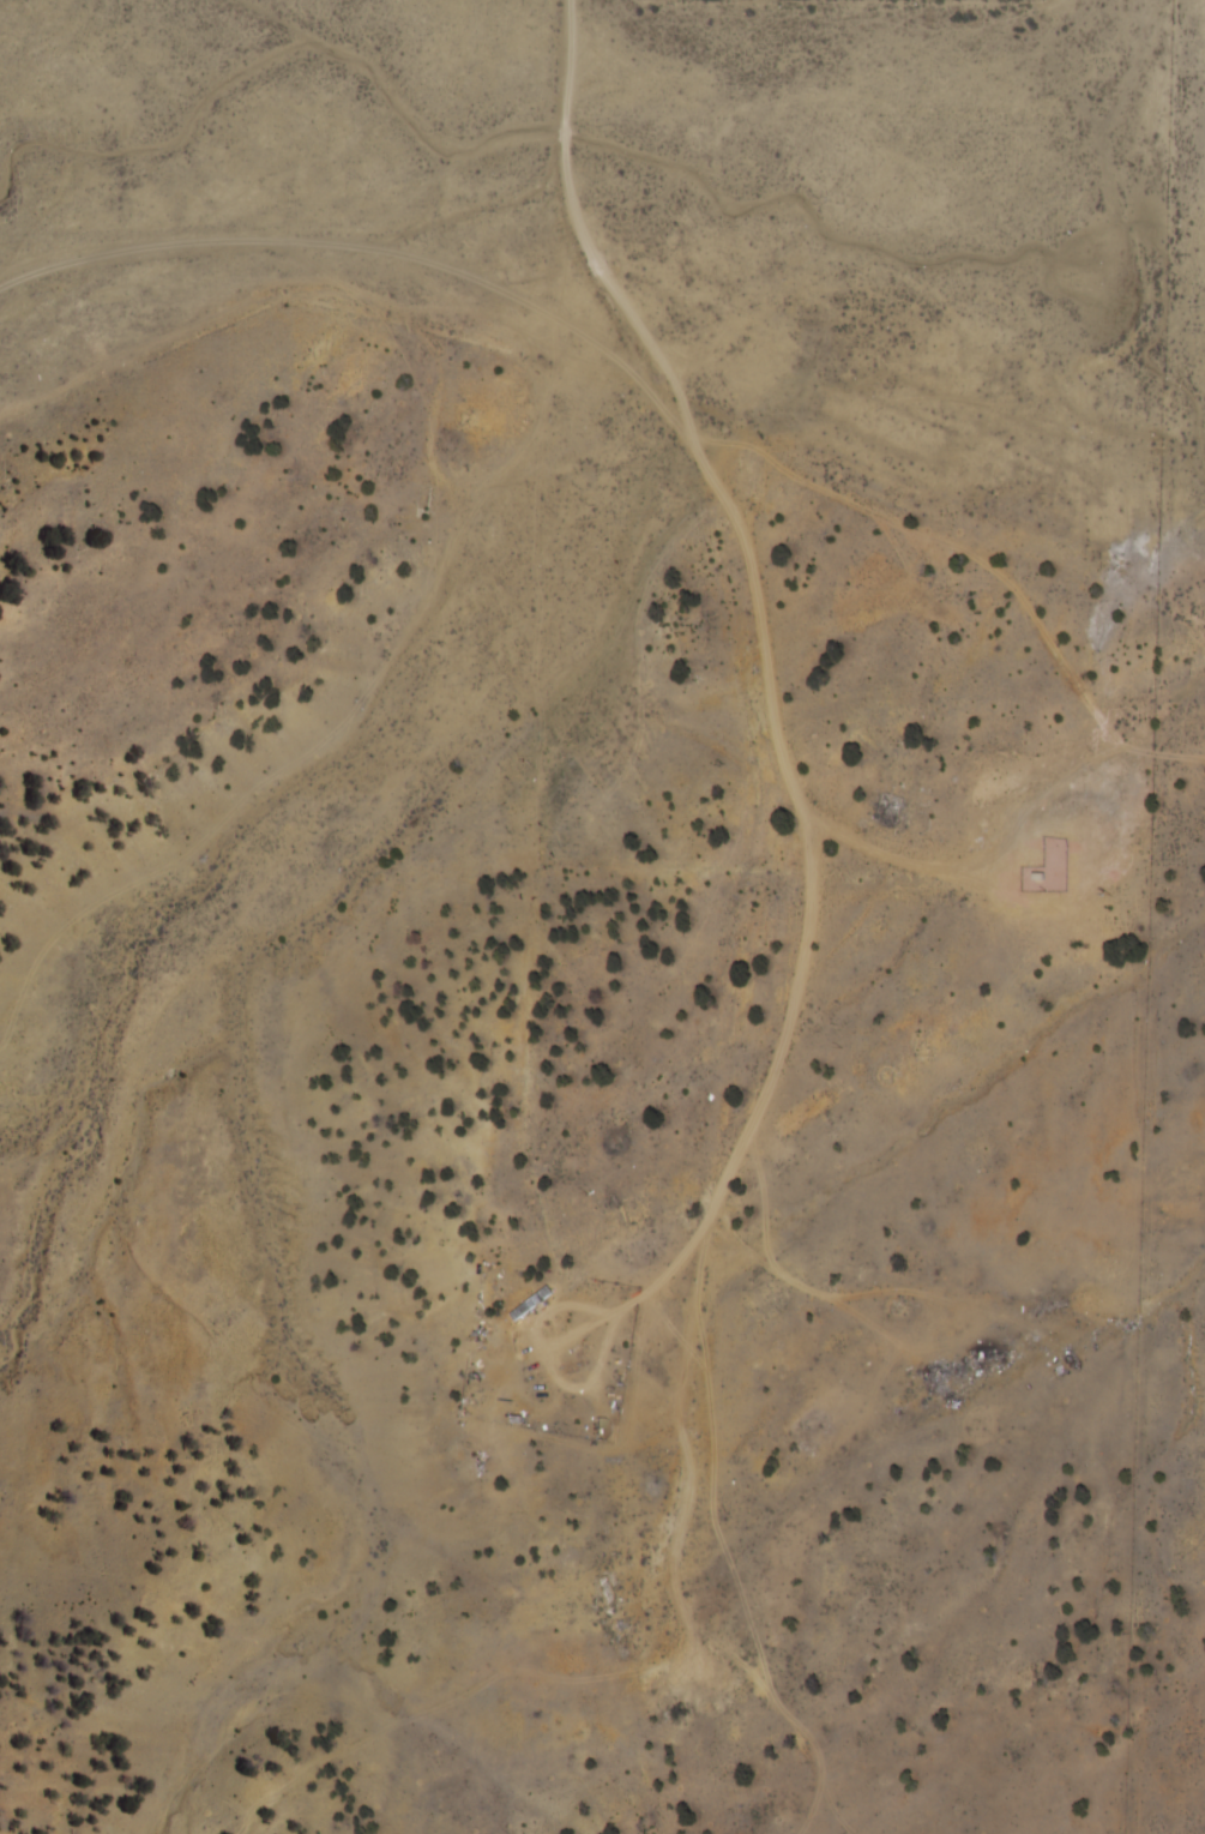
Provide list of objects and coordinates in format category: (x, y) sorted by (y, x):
road: (769, 913)

